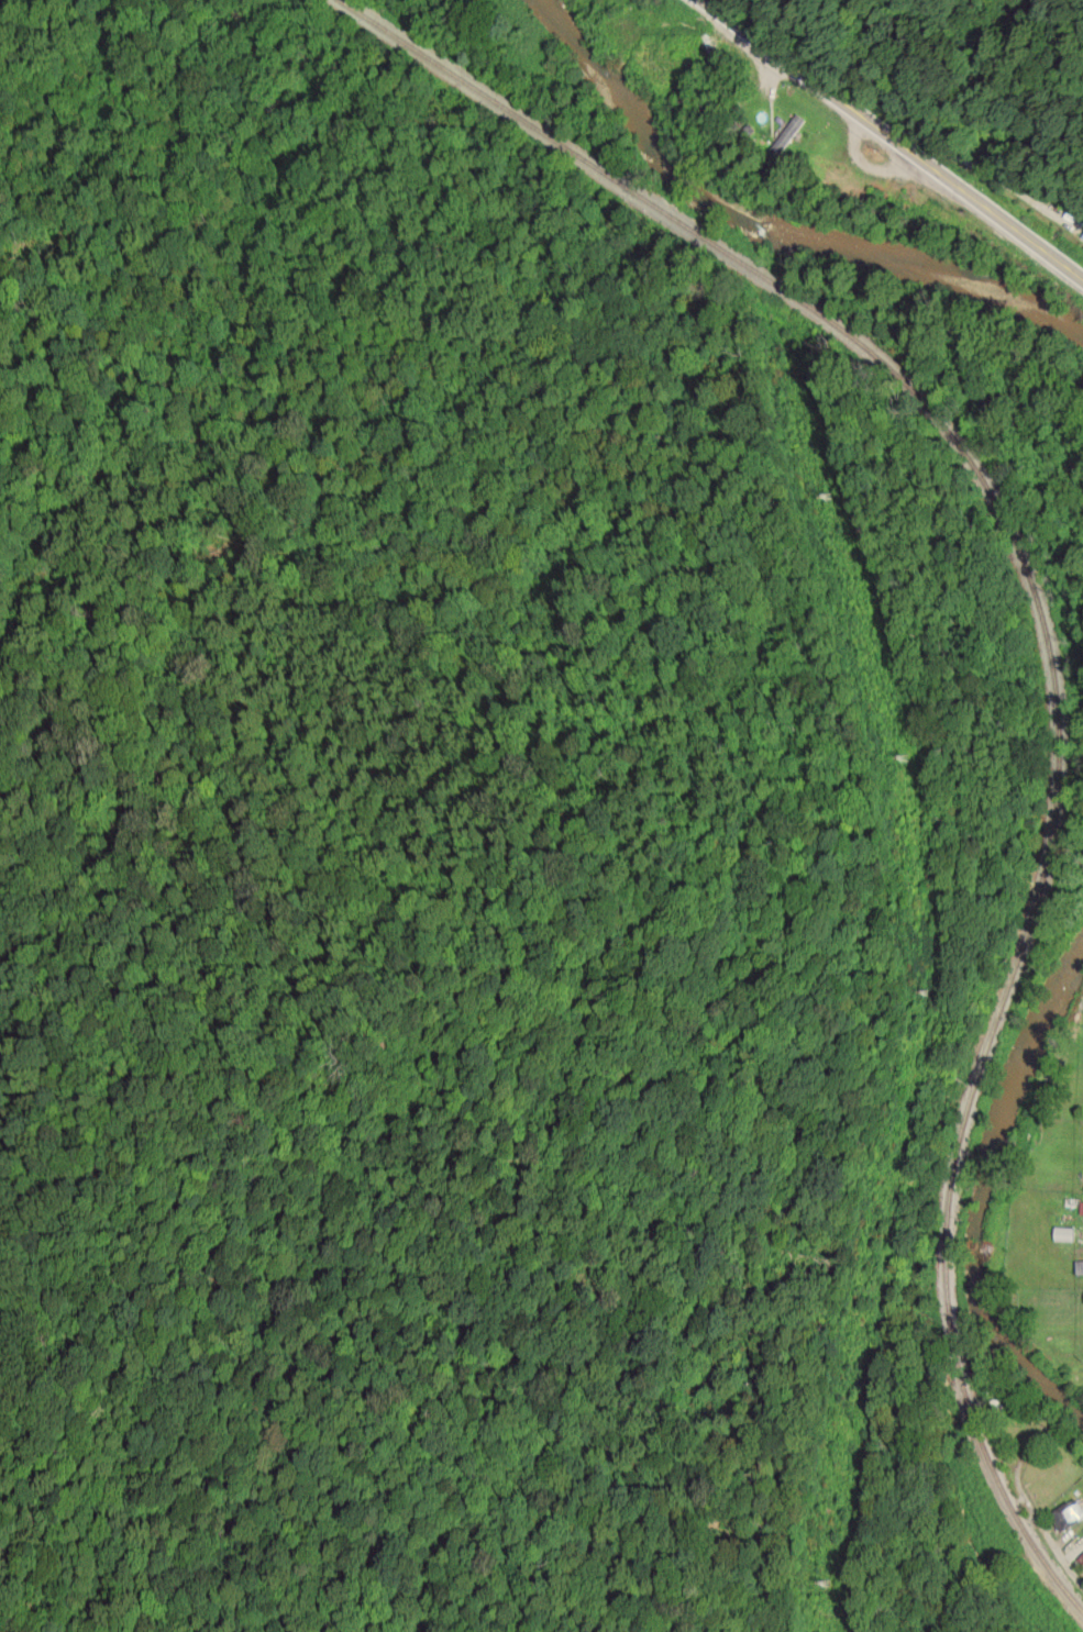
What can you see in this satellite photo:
building: (784, 135)
road: (893, 137)
river: (819, 191)
building: (1082, 238)
power tower: (822, 501)
railway: (1059, 655)
power tower: (898, 761)
power tower: (918, 996)
river: (991, 1173)
building: (1081, 1208)
road: (1049, 1411)
building: (1067, 1514)
building: (1081, 1556)
power tower: (822, 1587)

